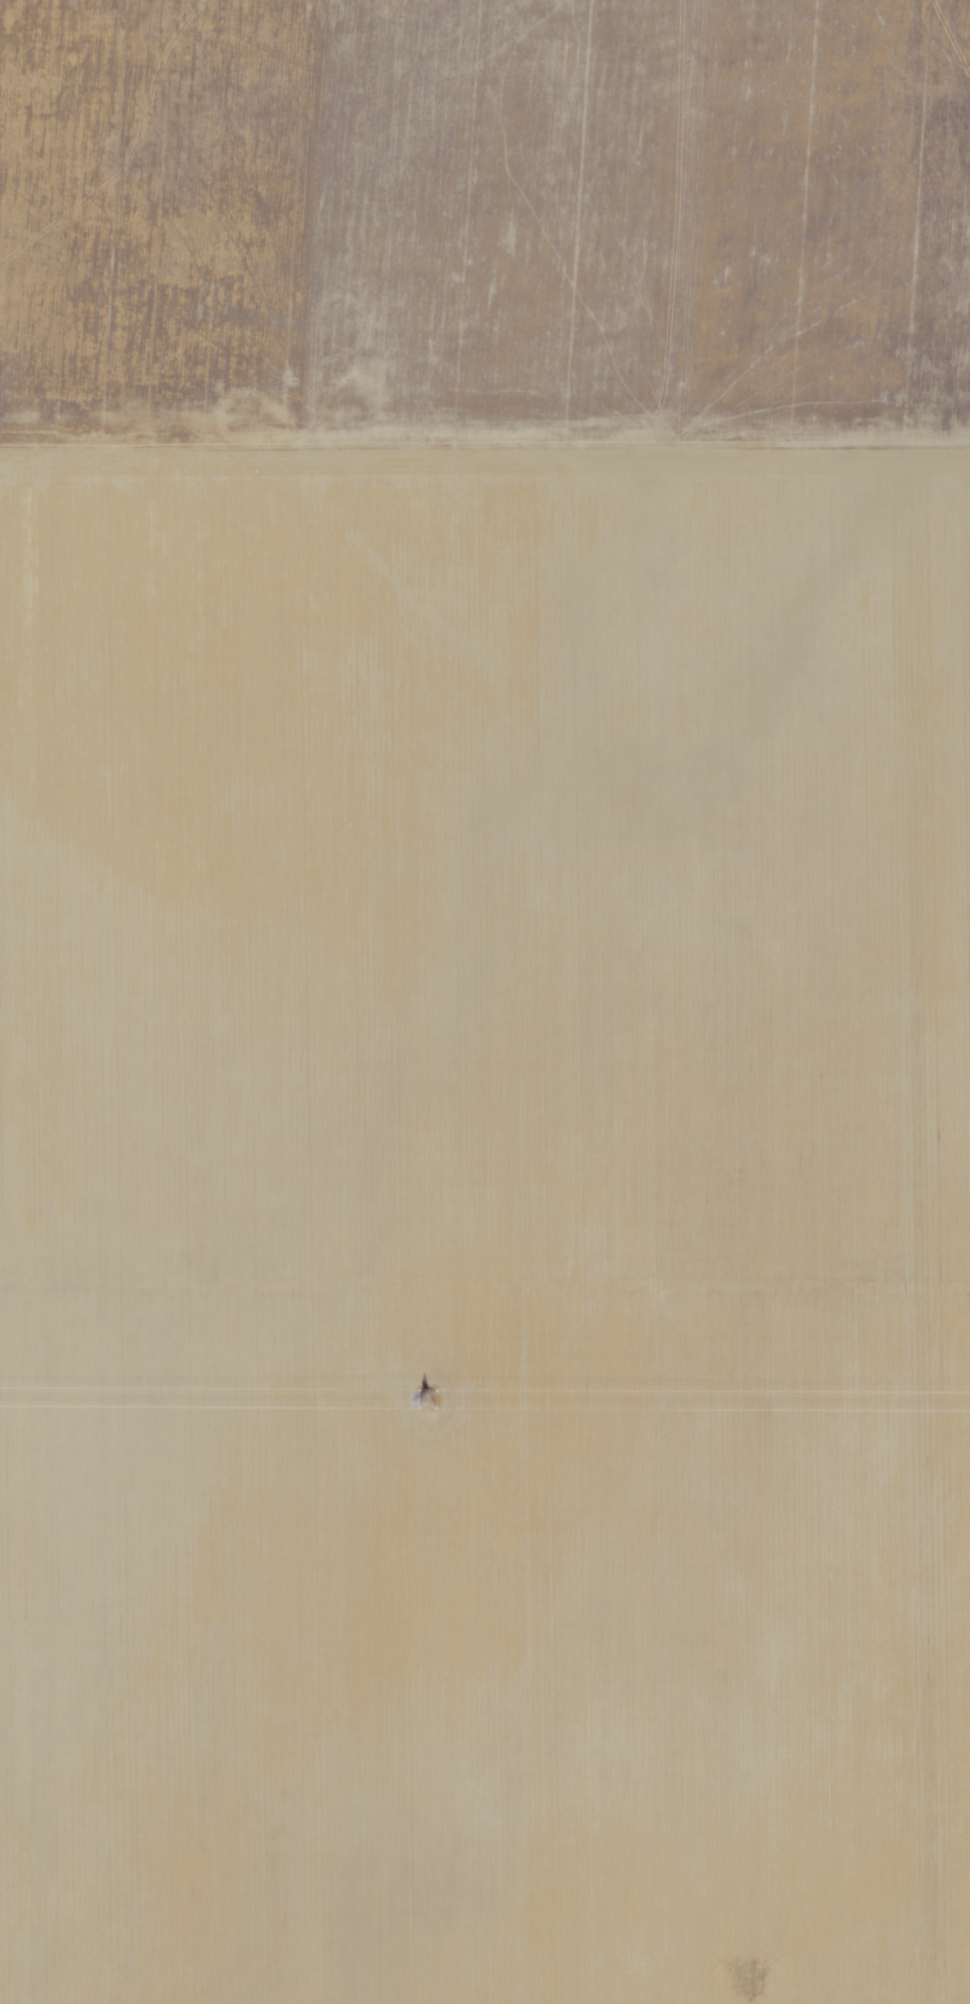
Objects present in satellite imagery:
power tower: (428, 1400)

